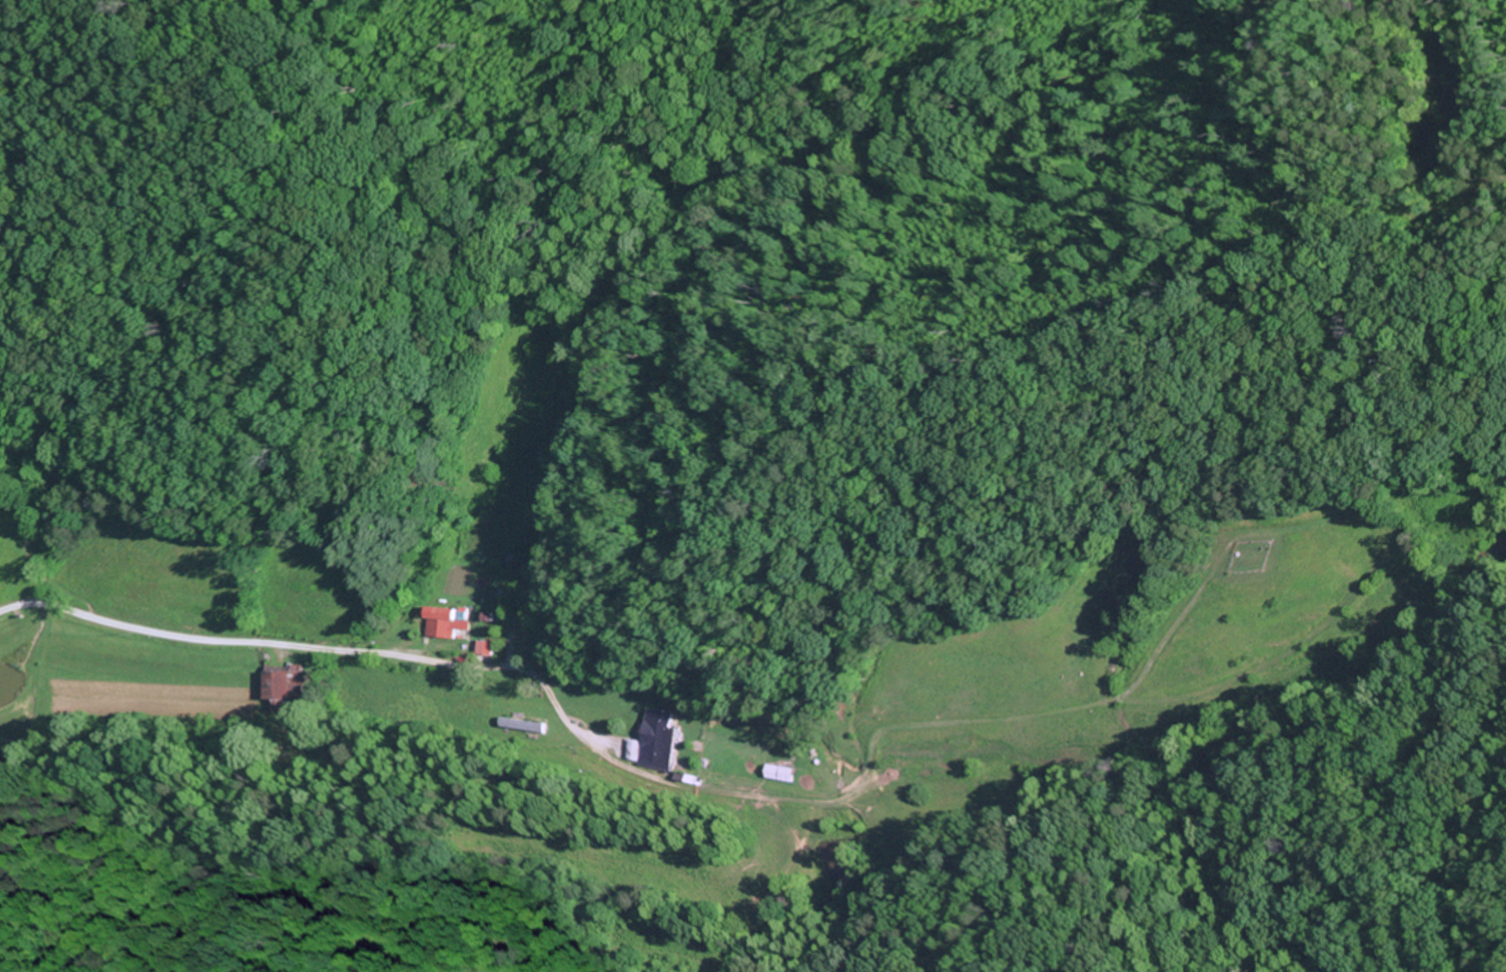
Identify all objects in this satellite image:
road: (409, 583)
building: (448, 622)
road: (302, 647)
building: (285, 683)
building: (658, 736)
building: (785, 774)

